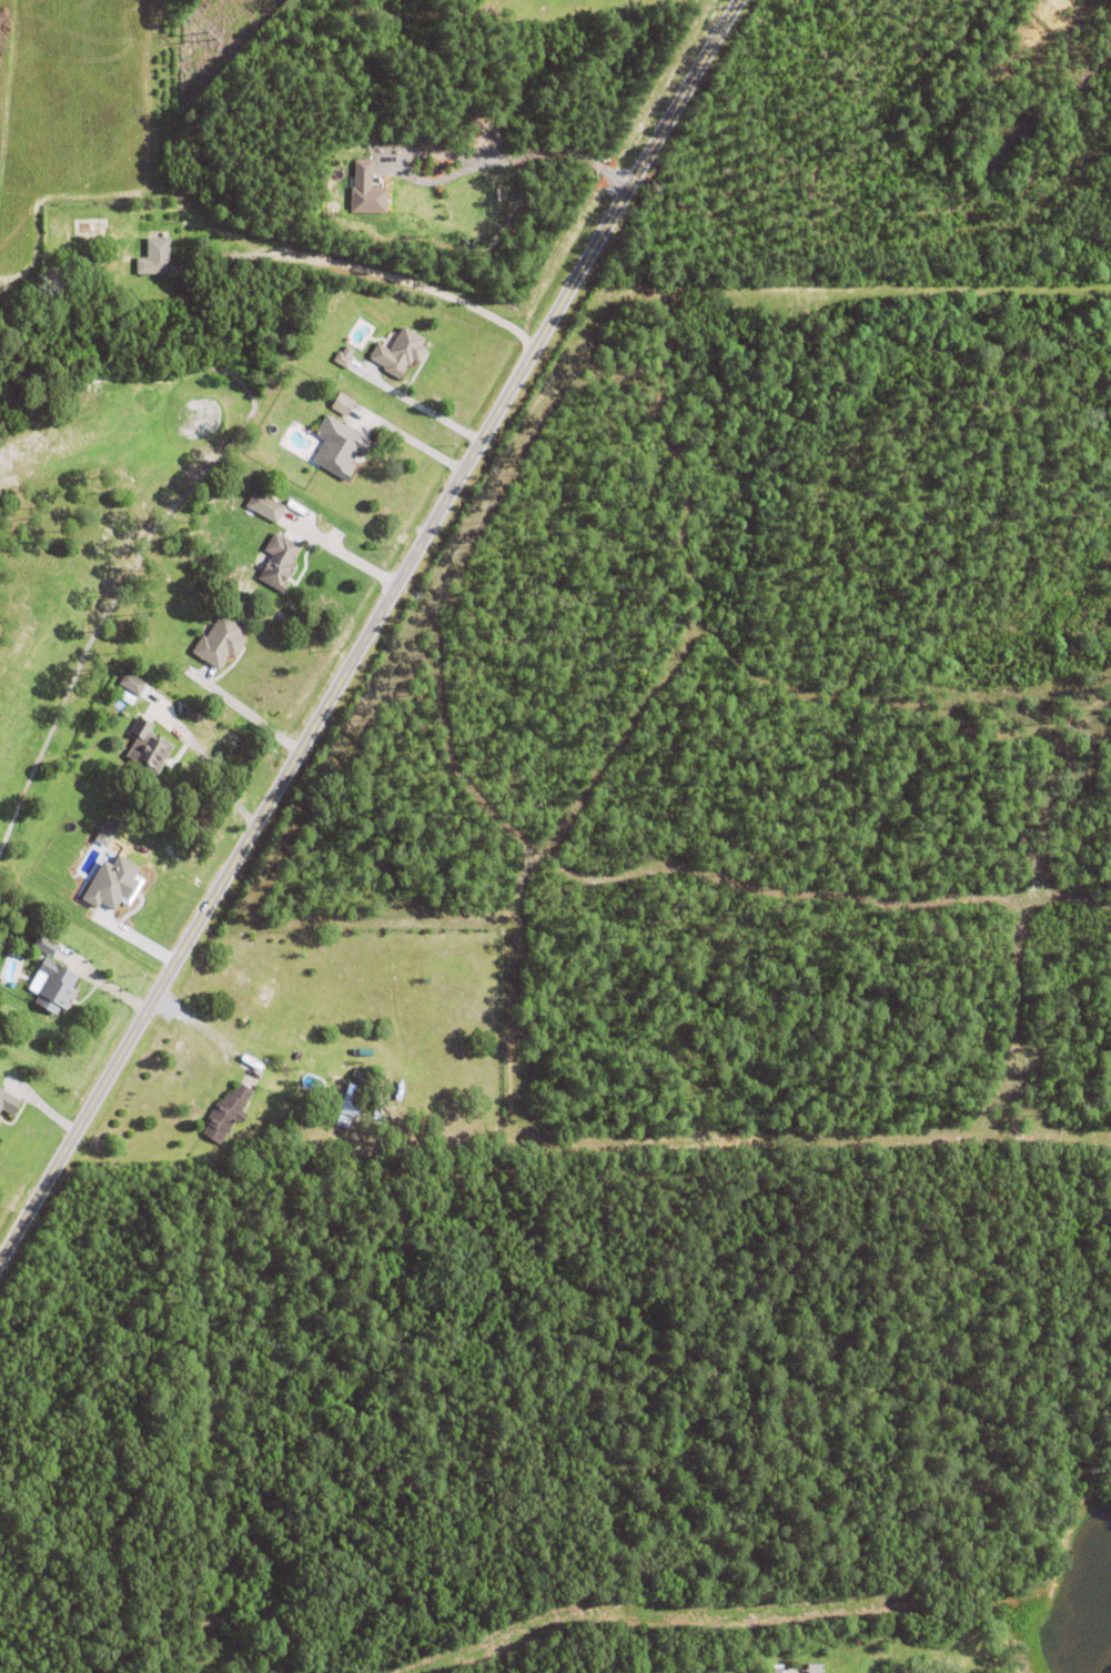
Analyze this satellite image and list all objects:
road: (508, 160)
building: (366, 189)
building: (155, 258)
building: (83, 262)
road: (374, 280)
building: (400, 353)
building: (344, 357)
building: (342, 404)
building: (339, 449)
building: (265, 506)
park: (95, 534)
road: (350, 553)
building: (279, 563)
road: (368, 631)
building: (220, 643)
building: (132, 683)
building: (169, 698)
road: (249, 710)
building: (149, 748)
road: (210, 764)
building: (112, 881)
building: (46, 947)
building: (54, 988)
building: (277, 1082)
building: (352, 1100)
building: (8, 1106)
building: (228, 1115)
building: (343, 1120)
building: (0, 1125)
building: (966, 1639)
building: (999, 1642)
road: (909, 1664)
building: (1000, 1666)
building: (812, 1667)
building: (779, 1669)

